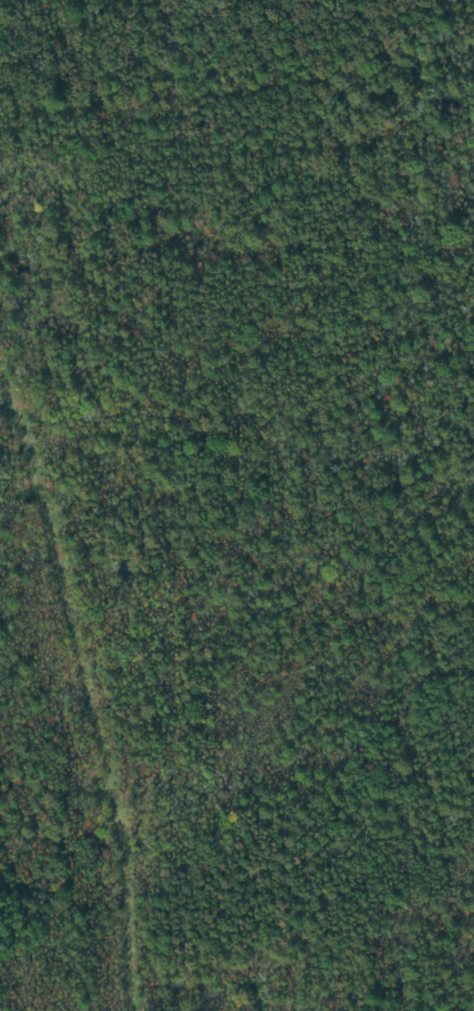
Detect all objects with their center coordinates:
road: (89, 676)

